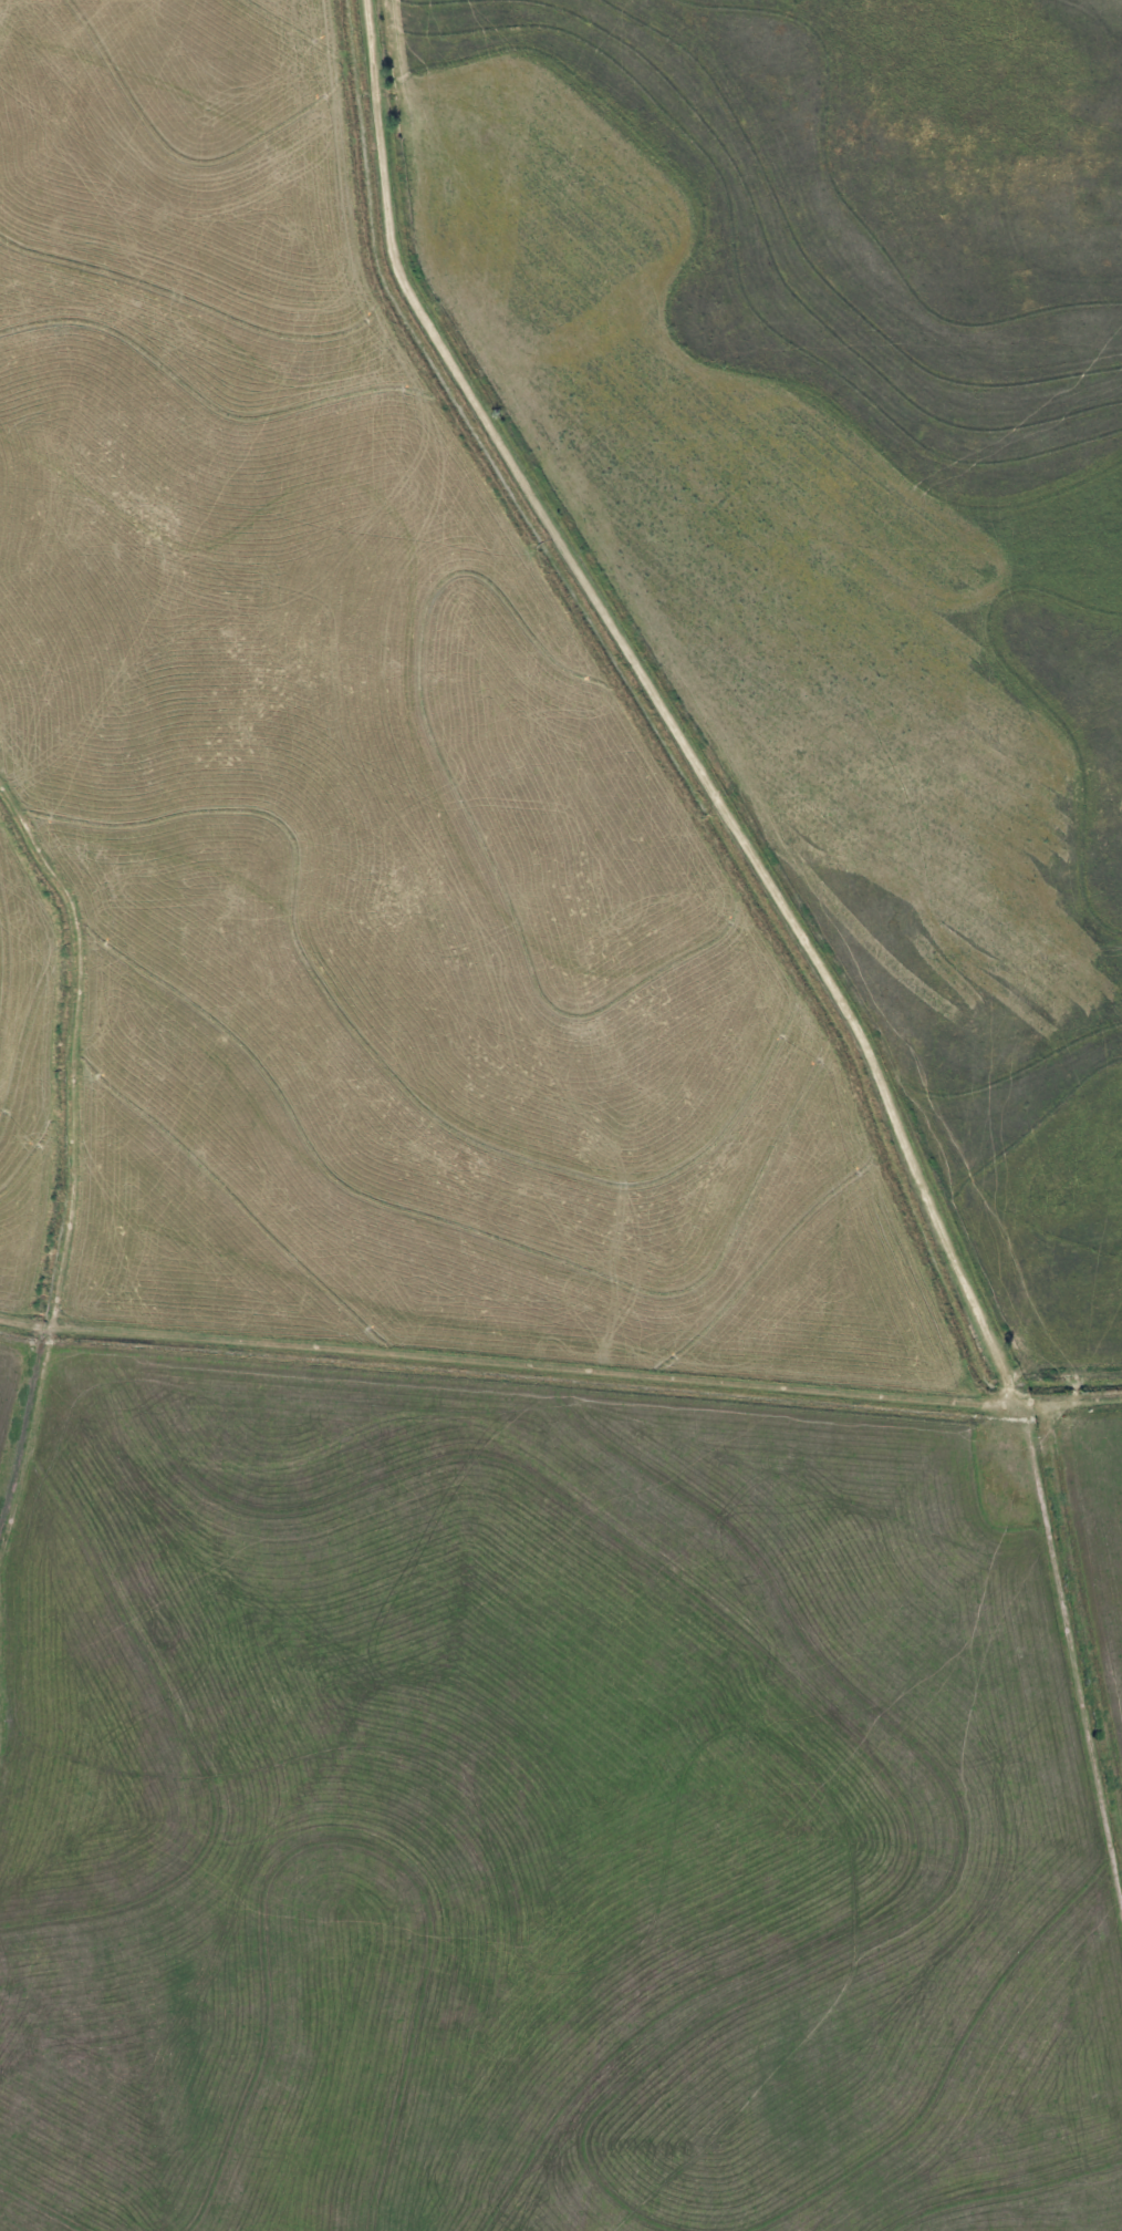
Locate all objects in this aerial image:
road: (364, 121)

